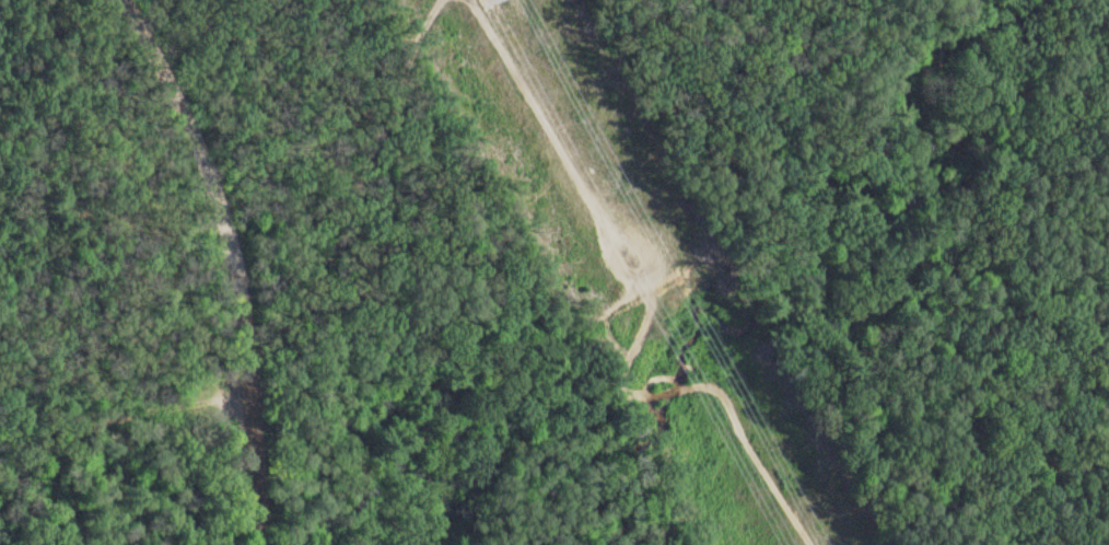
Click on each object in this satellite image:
road: (224, 239)
road: (127, 497)
road: (255, 521)

